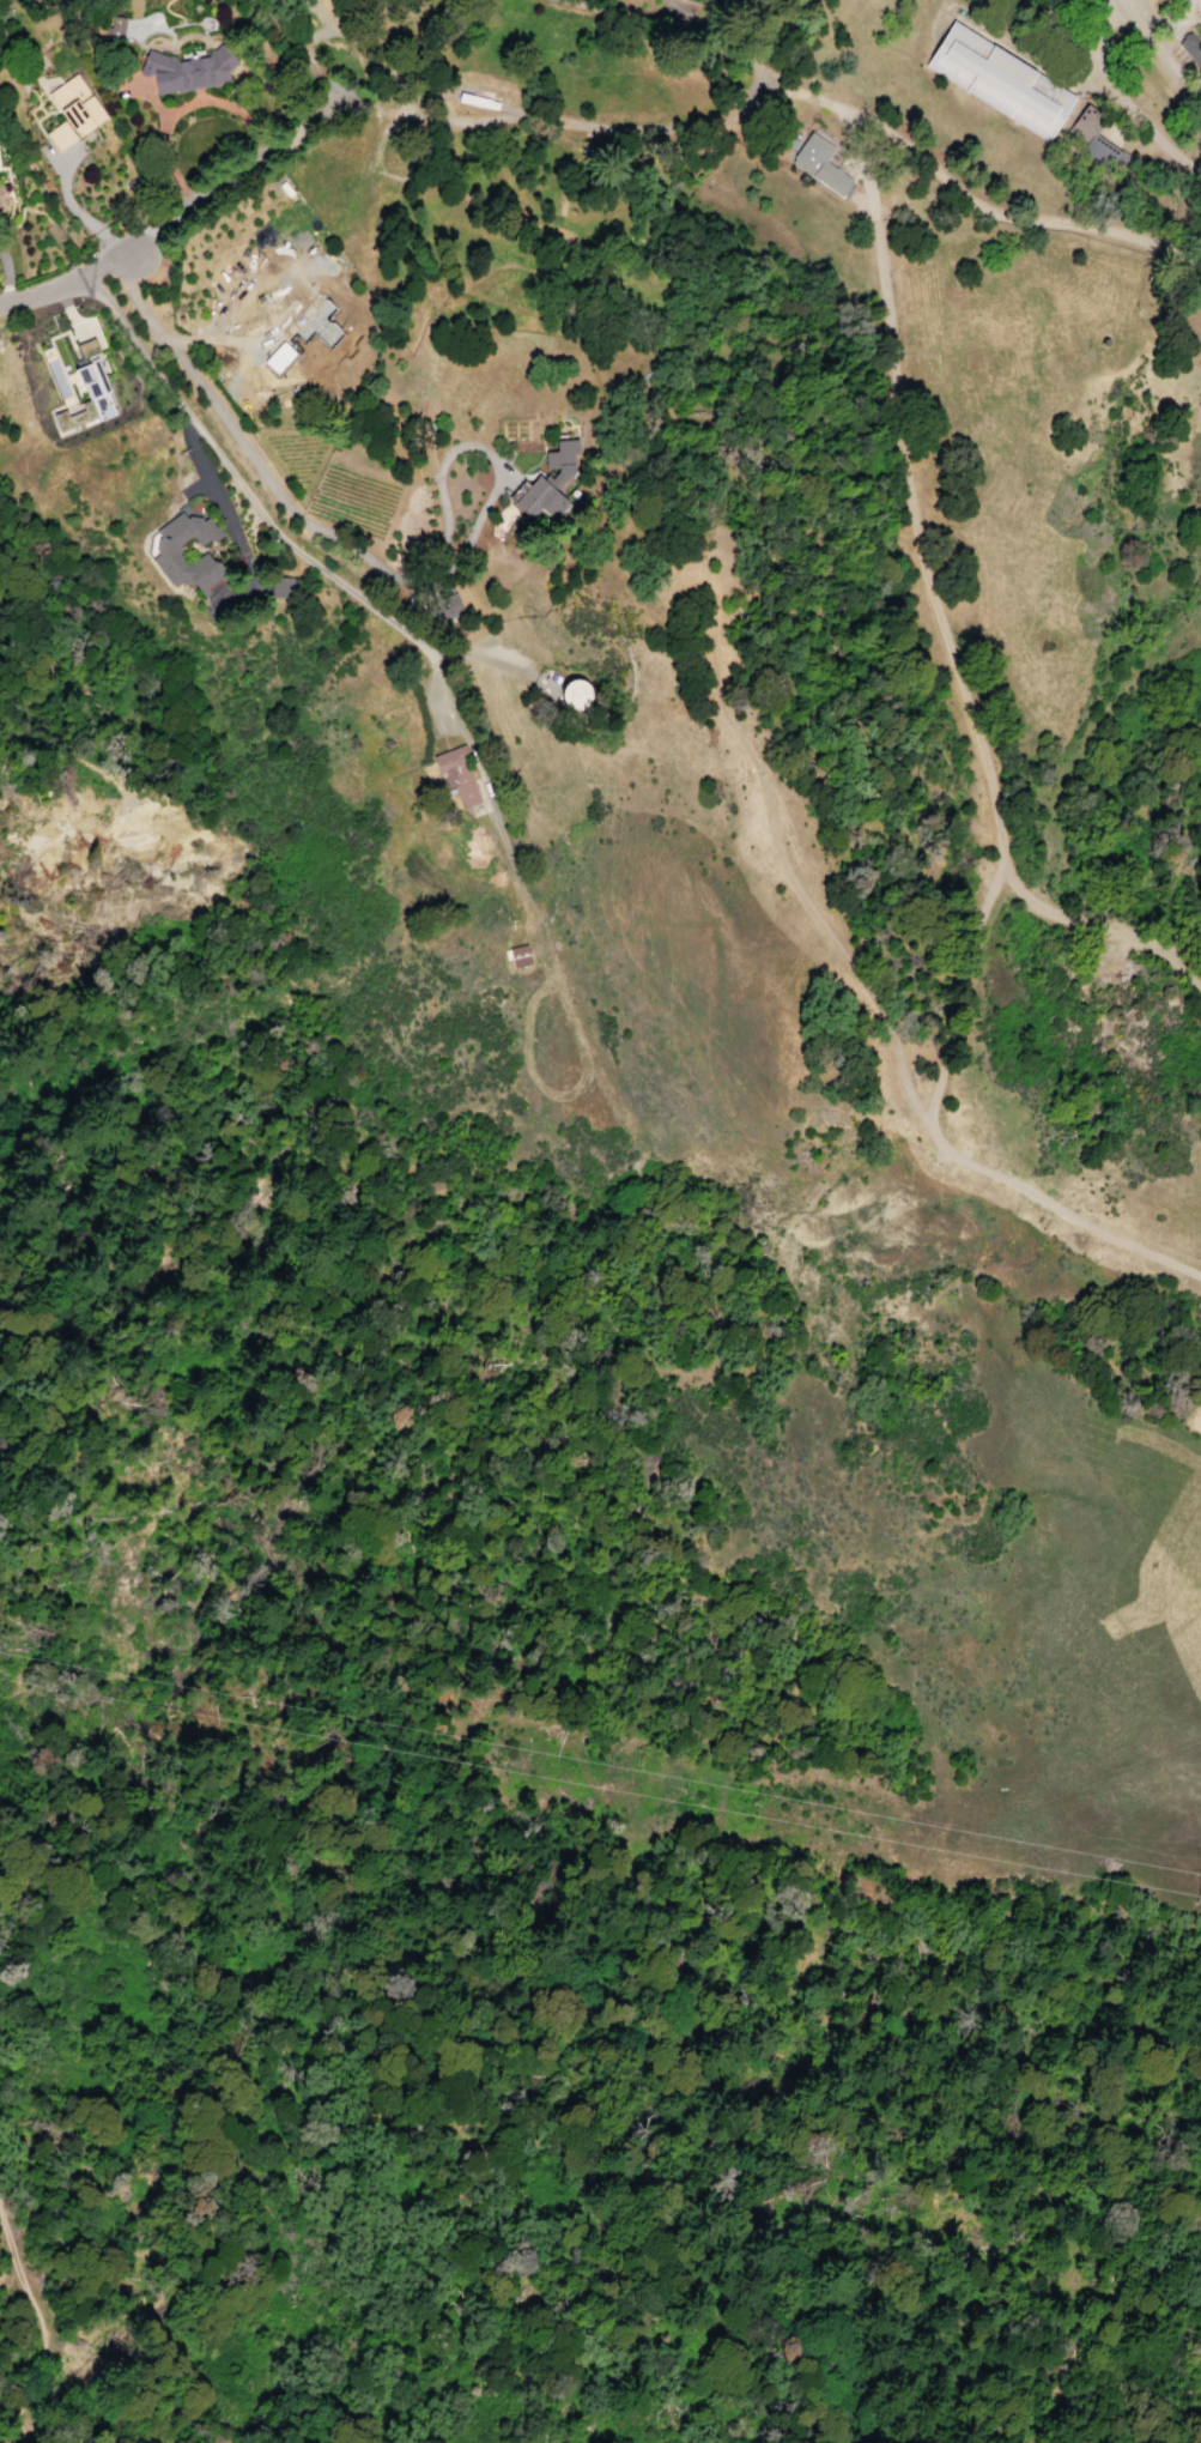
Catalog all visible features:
building: (1200, 16)
building: (115, 25)
building: (1199, 25)
building: (1190, 49)
building: (187, 68)
water tower: (393, 77)
water tower: (453, 85)
building: (1003, 87)
road: (1105, 87)
building: (72, 111)
road: (594, 126)
building: (1093, 138)
building: (819, 163)
building: (1, 193)
road: (74, 211)
road: (547, 234)
road: (74, 282)
building: (322, 320)
building: (295, 321)
building: (275, 375)
building: (80, 385)
building: (548, 482)
road: (316, 527)
road: (278, 532)
building: (168, 556)
building: (280, 588)
building: (574, 693)
water tower: (572, 694)
building: (457, 778)
building: (520, 956)
road: (890, 1044)
road: (47, 2348)

